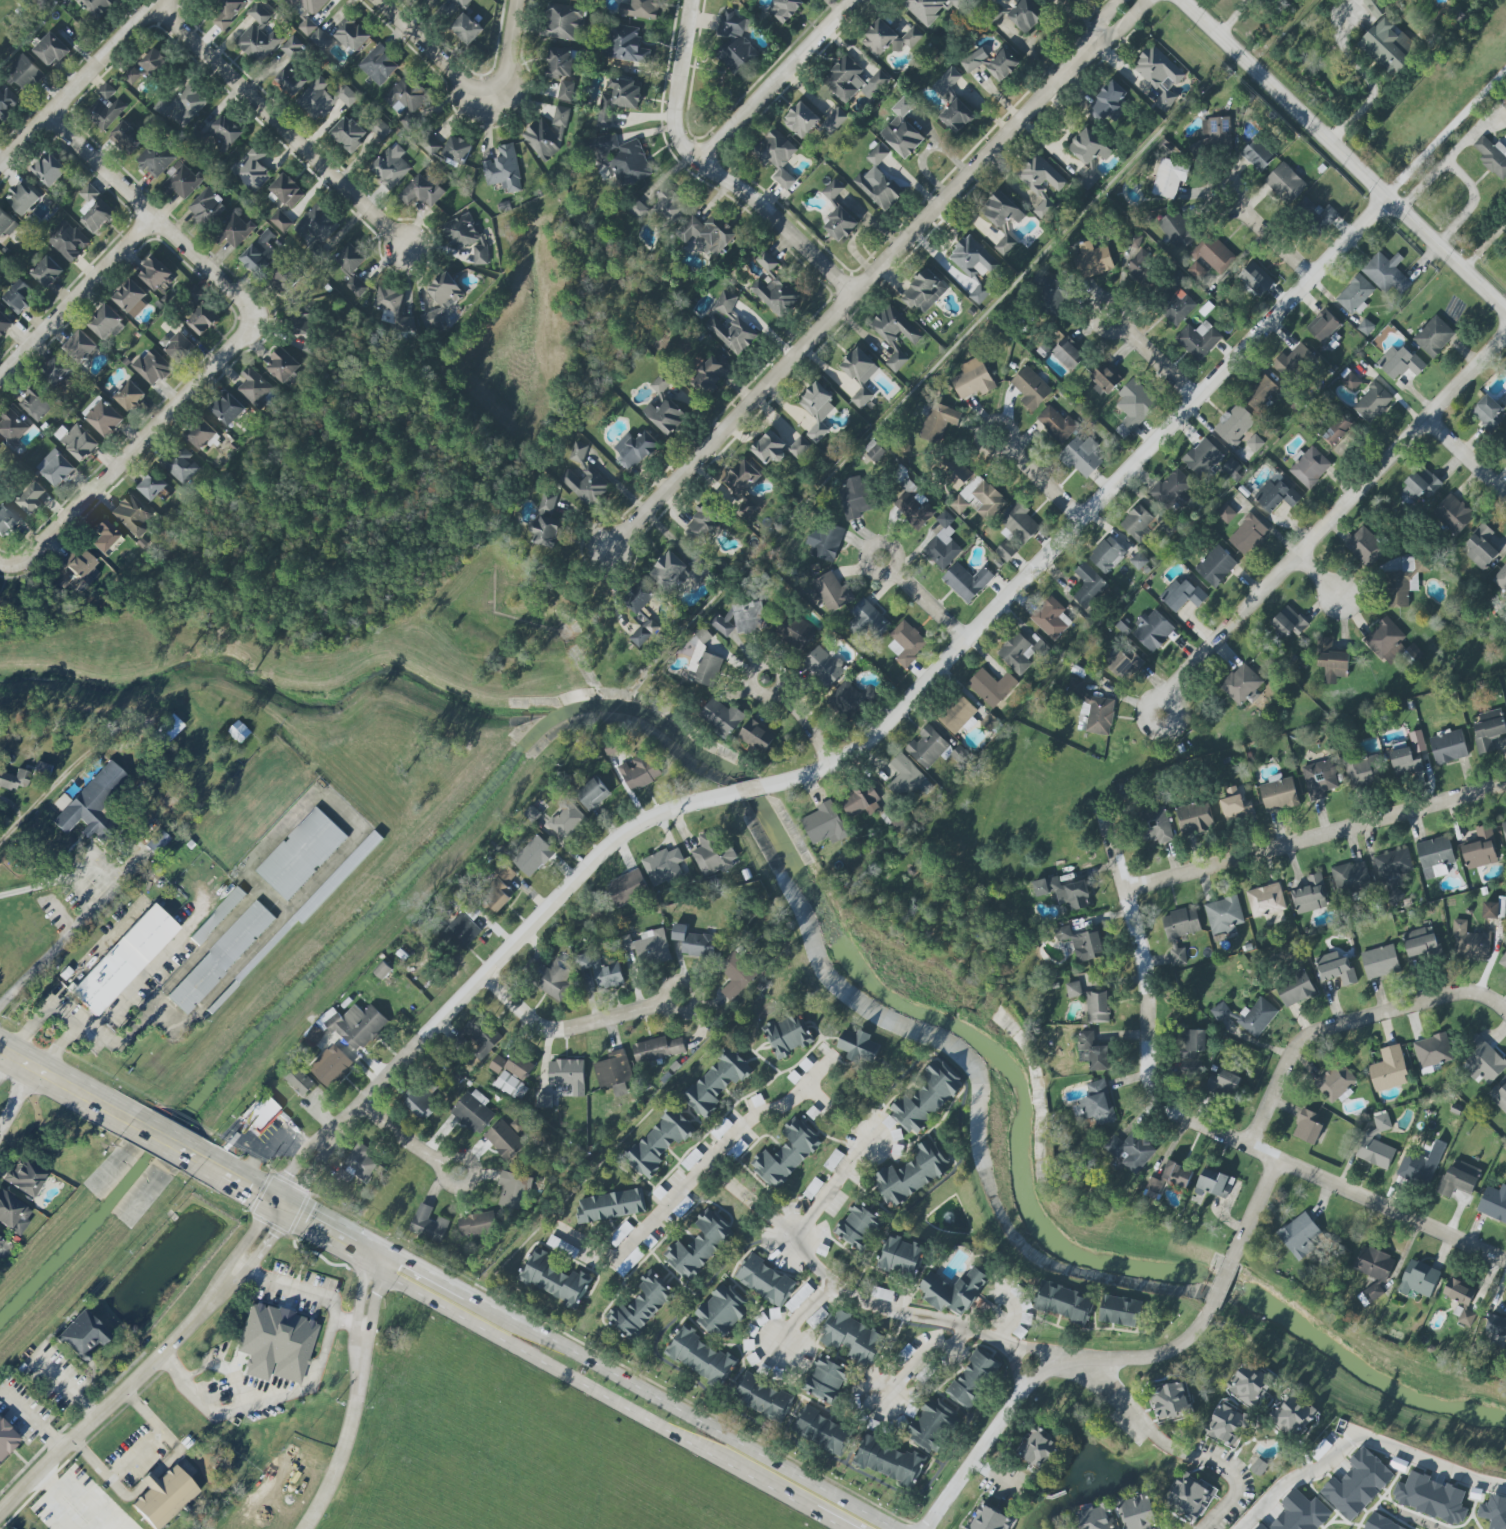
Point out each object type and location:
building: (1069, 0)
building: (462, 3)
building: (97, 5)
building: (930, 8)
building: (1373, 8)
building: (639, 9)
building: (785, 9)
building: (226, 12)
building: (305, 12)
building: (1025, 15)
road: (1231, 18)
building: (562, 23)
building: (466, 29)
building: (259, 34)
building: (352, 35)
building: (888, 38)
building: (320, 39)
building: (736, 42)
building: (626, 45)
building: (1387, 46)
building: (293, 48)
building: (51, 49)
road: (429, 54)
road: (516, 61)
building: (971, 61)
building: (1002, 64)
building: (378, 65)
building: (146, 67)
building: (561, 69)
building: (24, 72)
building: (1158, 75)
building: (290, 79)
building: (844, 79)
building: (877, 81)
building: (945, 81)
road: (777, 82)
road: (86, 89)
building: (406, 95)
building: (324, 98)
building: (617, 100)
building: (7, 101)
building: (1108, 103)
building: (185, 104)
building: (1504, 105)
building: (105, 107)
building: (956, 116)
building: (801, 120)
building: (833, 121)
road: (284, 126)
building: (380, 128)
building: (901, 130)
building: (225, 132)
building: (348, 133)
road: (1445, 133)
building: (545, 136)
building: (1211, 136)
building: (126, 138)
building: (1089, 147)
building: (456, 151)
building: (1257, 155)
building: (776, 156)
road: (1341, 156)
building: (1492, 156)
building: (618, 159)
building: (154, 160)
building: (389, 168)
building: (252, 170)
building: (50, 171)
road: (709, 173)
road: (1462, 176)
building: (1169, 177)
building: (183, 182)
building: (879, 182)
building: (1041, 183)
building: (1285, 183)
building: (287, 190)
building: (832, 190)
building: (423, 191)
building: (23, 197)
road: (1242, 199)
building: (1305, 206)
building: (205, 207)
building: (661, 207)
building: (94, 210)
road: (153, 213)
building: (1326, 217)
building: (1003, 220)
building: (280, 221)
building: (6, 224)
building: (317, 224)
building: (840, 224)
building: (233, 229)
building: (1176, 230)
building: (705, 234)
building: (466, 239)
building: (67, 240)
road: (1275, 242)
road: (1483, 245)
building: (261, 253)
building: (1213, 254)
building: (973, 258)
building: (349, 260)
building: (1092, 260)
building: (766, 261)
building: (1142, 269)
building: (1196, 270)
building: (47, 272)
building: (1386, 273)
building: (156, 274)
road: (870, 275)
building: (1255, 279)
building: (283, 280)
building: (355, 287)
building: (923, 292)
building: (979, 293)
building: (1355, 294)
building: (775, 295)
building: (18, 297)
building: (442, 297)
building: (1051, 297)
building: (130, 298)
road: (79, 299)
building: (1177, 307)
building: (392, 310)
road: (1125, 310)
building: (203, 320)
building: (4, 322)
building: (106, 323)
building: (727, 324)
building: (1322, 325)
building: (1365, 327)
building: (894, 334)
building: (1433, 337)
building: (302, 338)
building: (1198, 340)
building: (80, 346)
building: (179, 347)
building: (1068, 354)
building: (1292, 361)
building: (1400, 362)
road: (1160, 363)
building: (282, 366)
building: (151, 367)
building: (56, 371)
building: (1345, 373)
building: (708, 375)
building: (859, 375)
building: (1105, 378)
building: (972, 379)
building: (1352, 381)
building: (660, 383)
building: (253, 386)
building: (1030, 388)
building: (1260, 393)
building: (129, 395)
building: (1372, 403)
building: (1135, 404)
building: (34, 405)
building: (227, 408)
building: (816, 409)
building: (1487, 412)
building: (102, 416)
building: (665, 416)
building: (938, 421)
building: (1056, 424)
building: (1234, 424)
road: (1005, 426)
building: (12, 428)
building: (1337, 431)
building: (200, 434)
building: (1504, 439)
building: (77, 441)
building: (1255, 443)
road: (149, 447)
building: (798, 447)
building: (769, 448)
building: (635, 450)
building: (873, 451)
building: (1081, 456)
building: (1201, 457)
road: (1464, 458)
building: (181, 465)
building: (56, 467)
building: (1309, 467)
building: (1232, 468)
building: (956, 472)
building: (584, 476)
building: (741, 477)
road: (1044, 481)
building: (1420, 484)
building: (151, 486)
building: (1171, 489)
building: (1244, 491)
building: (1275, 494)
building: (33, 497)
building: (853, 498)
building: (979, 499)
building: (912, 505)
road: (1089, 507)
building: (1453, 513)
building: (131, 514)
building: (1226, 514)
road: (1338, 514)
building: (706, 517)
building: (6, 519)
building: (546, 521)
building: (1137, 522)
building: (1019, 524)
building: (1168, 528)
building: (1247, 534)
building: (104, 538)
building: (826, 541)
building: (942, 543)
building: (1364, 546)
building: (1481, 547)
building: (1005, 551)
building: (1106, 554)
road: (897, 560)
building: (1138, 561)
building: (78, 563)
road: (4, 565)
building: (1215, 566)
building: (1146, 569)
building: (675, 572)
road: (1319, 577)
building: (1501, 578)
building: (967, 581)
building: (1088, 586)
building: (832, 592)
building: (1182, 595)
building: (638, 600)
road: (928, 605)
building: (748, 617)
building: (1050, 618)
building: (867, 621)
building: (1288, 622)
building: (721, 625)
building: (793, 630)
building: (1152, 630)
building: (645, 632)
building: (1390, 643)
building: (906, 644)
building: (1018, 653)
building: (703, 661)
building: (1331, 661)
building: (1124, 664)
building: (823, 665)
road: (777, 672)
building: (1078, 672)
building: (1241, 685)
building: (991, 687)
building: (851, 699)
road: (1164, 699)
building: (1099, 714)
building: (958, 715)
building: (1083, 715)
building: (721, 717)
road: (805, 725)
building: (168, 729)
building: (1488, 729)
building: (238, 731)
building: (757, 736)
building: (1416, 741)
building: (1448, 747)
building: (931, 748)
building: (1404, 761)
building: (41, 768)
building: (639, 771)
building: (1364, 771)
building: (903, 776)
road: (58, 778)
building: (1319, 778)
building: (13, 779)
road: (746, 790)
building: (1278, 792)
building: (593, 793)
building: (860, 802)
building: (92, 803)
building: (1235, 806)
building: (1193, 817)
building: (566, 820)
building: (824, 824)
building: (1156, 826)
building: (1504, 828)
road: (1314, 836)
building: (156, 843)
building: (189, 845)
building: (1480, 849)
building: (302, 854)
road: (97, 855)
building: (713, 855)
building: (533, 856)
building: (1434, 856)
building: (1392, 865)
building: (663, 866)
road: (319, 876)
building: (1350, 877)
road: (40, 886)
building: (626, 887)
building: (1483, 891)
building: (1064, 892)
building: (1310, 895)
building: (1265, 900)
road: (555, 901)
building: (306, 909)
building: (1494, 909)
building: (1224, 915)
building: (1411, 915)
building: (217, 916)
building: (462, 930)
building: (1178, 931)
road: (71, 932)
building: (693, 942)
building: (1420, 942)
building: (1469, 942)
building: (1082, 943)
building: (651, 947)
building: (220, 958)
building: (123, 960)
building: (1503, 961)
building: (1379, 962)
road: (185, 964)
building: (1335, 968)
building: (382, 971)
building: (65, 974)
building: (607, 974)
building: (736, 975)
road: (138, 977)
building: (553, 979)
building: (1073, 989)
building: (1295, 989)
building: (1097, 1006)
road: (677, 1014)
building: (1248, 1016)
road: (1345, 1021)
road: (27, 1026)
building: (357, 1026)
road: (562, 1029)
building: (787, 1035)
road: (67, 1036)
building: (480, 1037)
building: (858, 1046)
building: (657, 1049)
building: (1092, 1052)
building: (1432, 1053)
building: (1482, 1061)
building: (330, 1065)
building: (519, 1067)
building: (1388, 1069)
building: (614, 1072)
road: (9, 1073)
building: (567, 1075)
building: (507, 1080)
building: (299, 1081)
building: (717, 1082)
building: (1223, 1083)
building: (1335, 1083)
road: (70, 1084)
building: (926, 1098)
building: (1500, 1098)
building: (544, 1101)
building: (1095, 1104)
building: (1455, 1109)
building: (473, 1111)
building: (258, 1112)
road: (378, 1117)
road: (343, 1119)
road: (1187, 1120)
building: (1307, 1127)
road: (174, 1139)
building: (504, 1140)
building: (659, 1142)
building: (1376, 1143)
road: (421, 1148)
building: (1130, 1150)
building: (786, 1154)
road: (466, 1159)
road: (215, 1162)
building: (358, 1165)
building: (1416, 1168)
road: (693, 1170)
building: (912, 1173)
building: (24, 1177)
building: (1171, 1177)
building: (1458, 1178)
building: (1214, 1183)
road: (255, 1185)
road: (833, 1187)
building: (513, 1190)
building: (1494, 1203)
building: (610, 1205)
road: (1253, 1210)
building: (13, 1213)
road: (320, 1222)
building: (428, 1224)
building: (476, 1224)
building: (858, 1226)
building: (1300, 1235)
building: (1, 1242)
building: (698, 1245)
road: (366, 1249)
building: (900, 1256)
building: (1373, 1270)
road: (821, 1275)
road: (419, 1279)
building: (555, 1279)
building: (763, 1279)
building: (1418, 1279)
road: (1220, 1283)
road: (295, 1290)
building: (953, 1291)
building: (1460, 1300)
building: (1063, 1302)
building: (640, 1305)
building: (1119, 1310)
building: (721, 1312)
road: (801, 1312)
road: (350, 1321)
building: (1496, 1331)
building: (82, 1333)
building: (852, 1337)
road: (949, 1343)
building: (276, 1344)
road: (269, 1354)
building: (699, 1356)
road: (223, 1357)
road: (294, 1361)
road: (150, 1367)
road: (1036, 1369)
building: (825, 1379)
building: (972, 1380)
building: (1248, 1384)
road: (361, 1396)
road: (257, 1398)
building: (763, 1398)
building: (1170, 1401)
road: (632, 1410)
road: (679, 1411)
building: (1294, 1415)
building: (933, 1424)
building: (1227, 1424)
building: (821, 1431)
building: (6, 1439)
road: (1363, 1447)
building: (1037, 1448)
road: (1175, 1454)
road: (142, 1458)
building: (889, 1461)
building: (1258, 1466)
road: (996, 1471)
building: (1357, 1484)
building: (1190, 1495)
building: (163, 1496)
building: (1430, 1497)
building: (1494, 1511)
building: (1138, 1513)
building: (1300, 1513)
building: (1096, 1517)
road: (829, 1519)
building: (988, 1519)
building: (1380, 1523)

